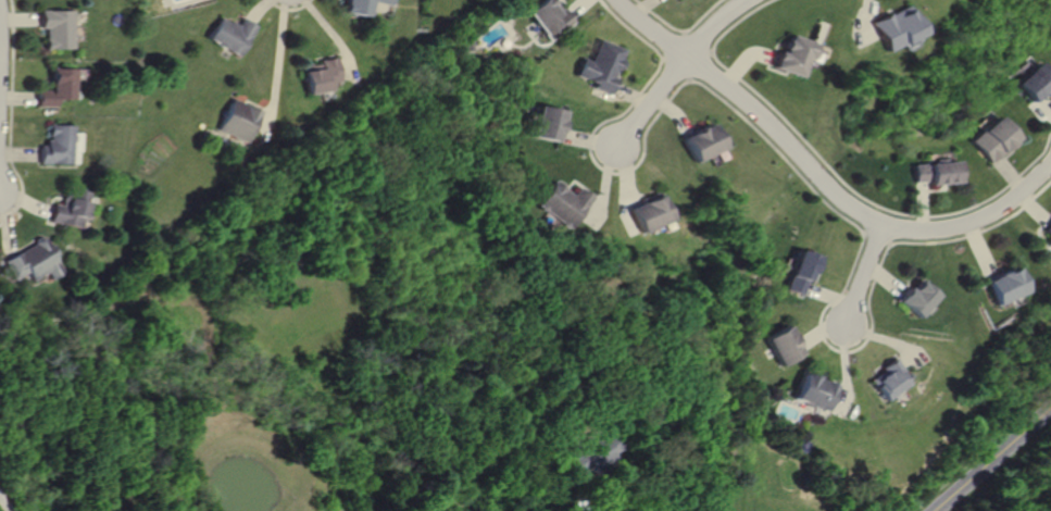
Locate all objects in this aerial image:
building: (362, 5)
road: (578, 7)
road: (643, 7)
road: (258, 9)
road: (289, 9)
road: (17, 17)
building: (550, 18)
road: (860, 23)
road: (712, 25)
building: (53, 28)
building: (894, 28)
road: (680, 30)
building: (232, 35)
road: (337, 36)
road: (693, 42)
road: (675, 47)
building: (789, 54)
road: (742, 61)
road: (699, 62)
building: (604, 64)
road: (275, 66)
road: (677, 67)
building: (321, 74)
building: (1033, 82)
building: (53, 88)
road: (16, 97)
road: (652, 99)
road: (655, 101)
road: (1043, 104)
road: (9, 115)
building: (237, 120)
building: (547, 124)
road: (588, 138)
building: (994, 139)
building: (699, 142)
building: (58, 145)
road: (17, 152)
road: (1010, 172)
building: (937, 173)
road: (625, 174)
road: (818, 178)
road: (838, 179)
road: (804, 183)
road: (603, 184)
road: (25, 200)
building: (566, 202)
road: (922, 205)
road: (1036, 207)
building: (72, 208)
building: (649, 212)
road: (5, 228)
building: (1049, 229)
road: (877, 236)
road: (981, 250)
building: (37, 259)
building: (802, 269)
road: (865, 272)
road: (888, 277)
building: (1011, 285)
road: (829, 296)
building: (923, 297)
road: (824, 332)
road: (893, 340)
building: (784, 346)
road: (849, 367)
building: (896, 377)
building: (816, 389)
building: (598, 452)
road: (996, 459)
park: (1018, 481)
road: (7, 502)
road: (591, 503)

